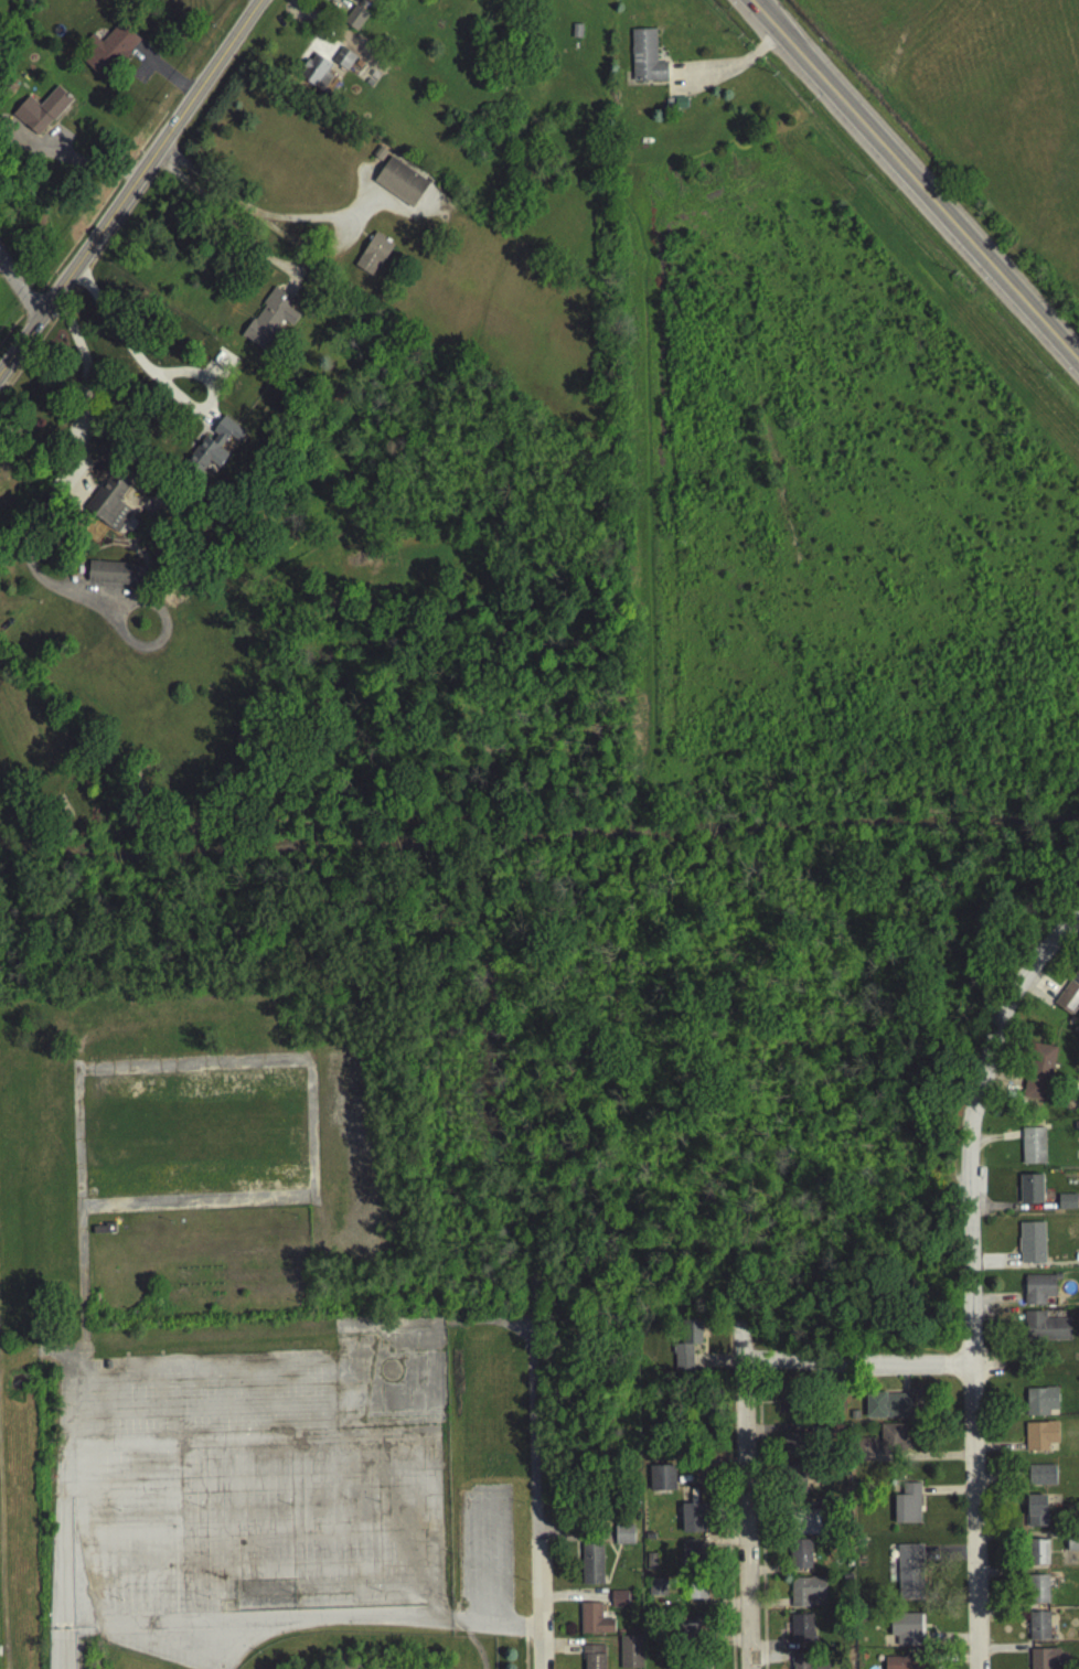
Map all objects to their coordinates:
building: (356, 1)
road: (747, 3)
building: (575, 35)
building: (108, 54)
building: (644, 62)
road: (727, 71)
building: (314, 76)
building: (675, 107)
building: (41, 115)
building: (400, 185)
road: (915, 188)
road: (131, 189)
road: (900, 193)
road: (249, 212)
building: (373, 258)
road: (21, 289)
building: (269, 323)
road: (124, 343)
road: (88, 394)
building: (215, 452)
building: (111, 505)
building: (108, 577)
road: (1028, 966)
building: (1068, 998)
road: (237, 1063)
building: (1037, 1076)
building: (1032, 1149)
building: (1029, 1192)
building: (1066, 1206)
building: (1030, 1247)
building: (1038, 1294)
building: (1044, 1330)
building: (686, 1336)
road: (19, 1342)
road: (969, 1345)
building: (686, 1352)
road: (53, 1359)
road: (855, 1368)
road: (261, 1370)
building: (1040, 1404)
building: (790, 1408)
building: (888, 1409)
road: (259, 1411)
road: (532, 1434)
building: (1039, 1440)
building: (891, 1442)
road: (260, 1443)
building: (793, 1448)
parking lot: (267, 1477)
building: (1040, 1479)
building: (661, 1481)
building: (793, 1483)
road: (260, 1489)
road: (62, 1507)
building: (906, 1508)
building: (1035, 1515)
road: (743, 1518)
building: (692, 1521)
building: (806, 1521)
road: (760, 1531)
road: (261, 1534)
road: (728, 1536)
building: (622, 1539)
building: (1072, 1547)
building: (1037, 1556)
building: (692, 1558)
building: (799, 1559)
road: (485, 1563)
building: (591, 1568)
road: (261, 1573)
building: (909, 1575)
building: (655, 1591)
building: (1036, 1593)
building: (697, 1594)
building: (805, 1595)
building: (618, 1603)
road: (538, 1606)
building: (592, 1623)
road: (300, 1624)
building: (1038, 1630)
building: (800, 1633)
building: (905, 1634)
building: (688, 1635)
road: (523, 1649)
building: (629, 1654)
parking lot: (152, 1655)
building: (592, 1659)
building: (1043, 1660)
building: (801, 1662)
road: (192, 1663)
building: (899, 1665)
building: (685, 1668)

